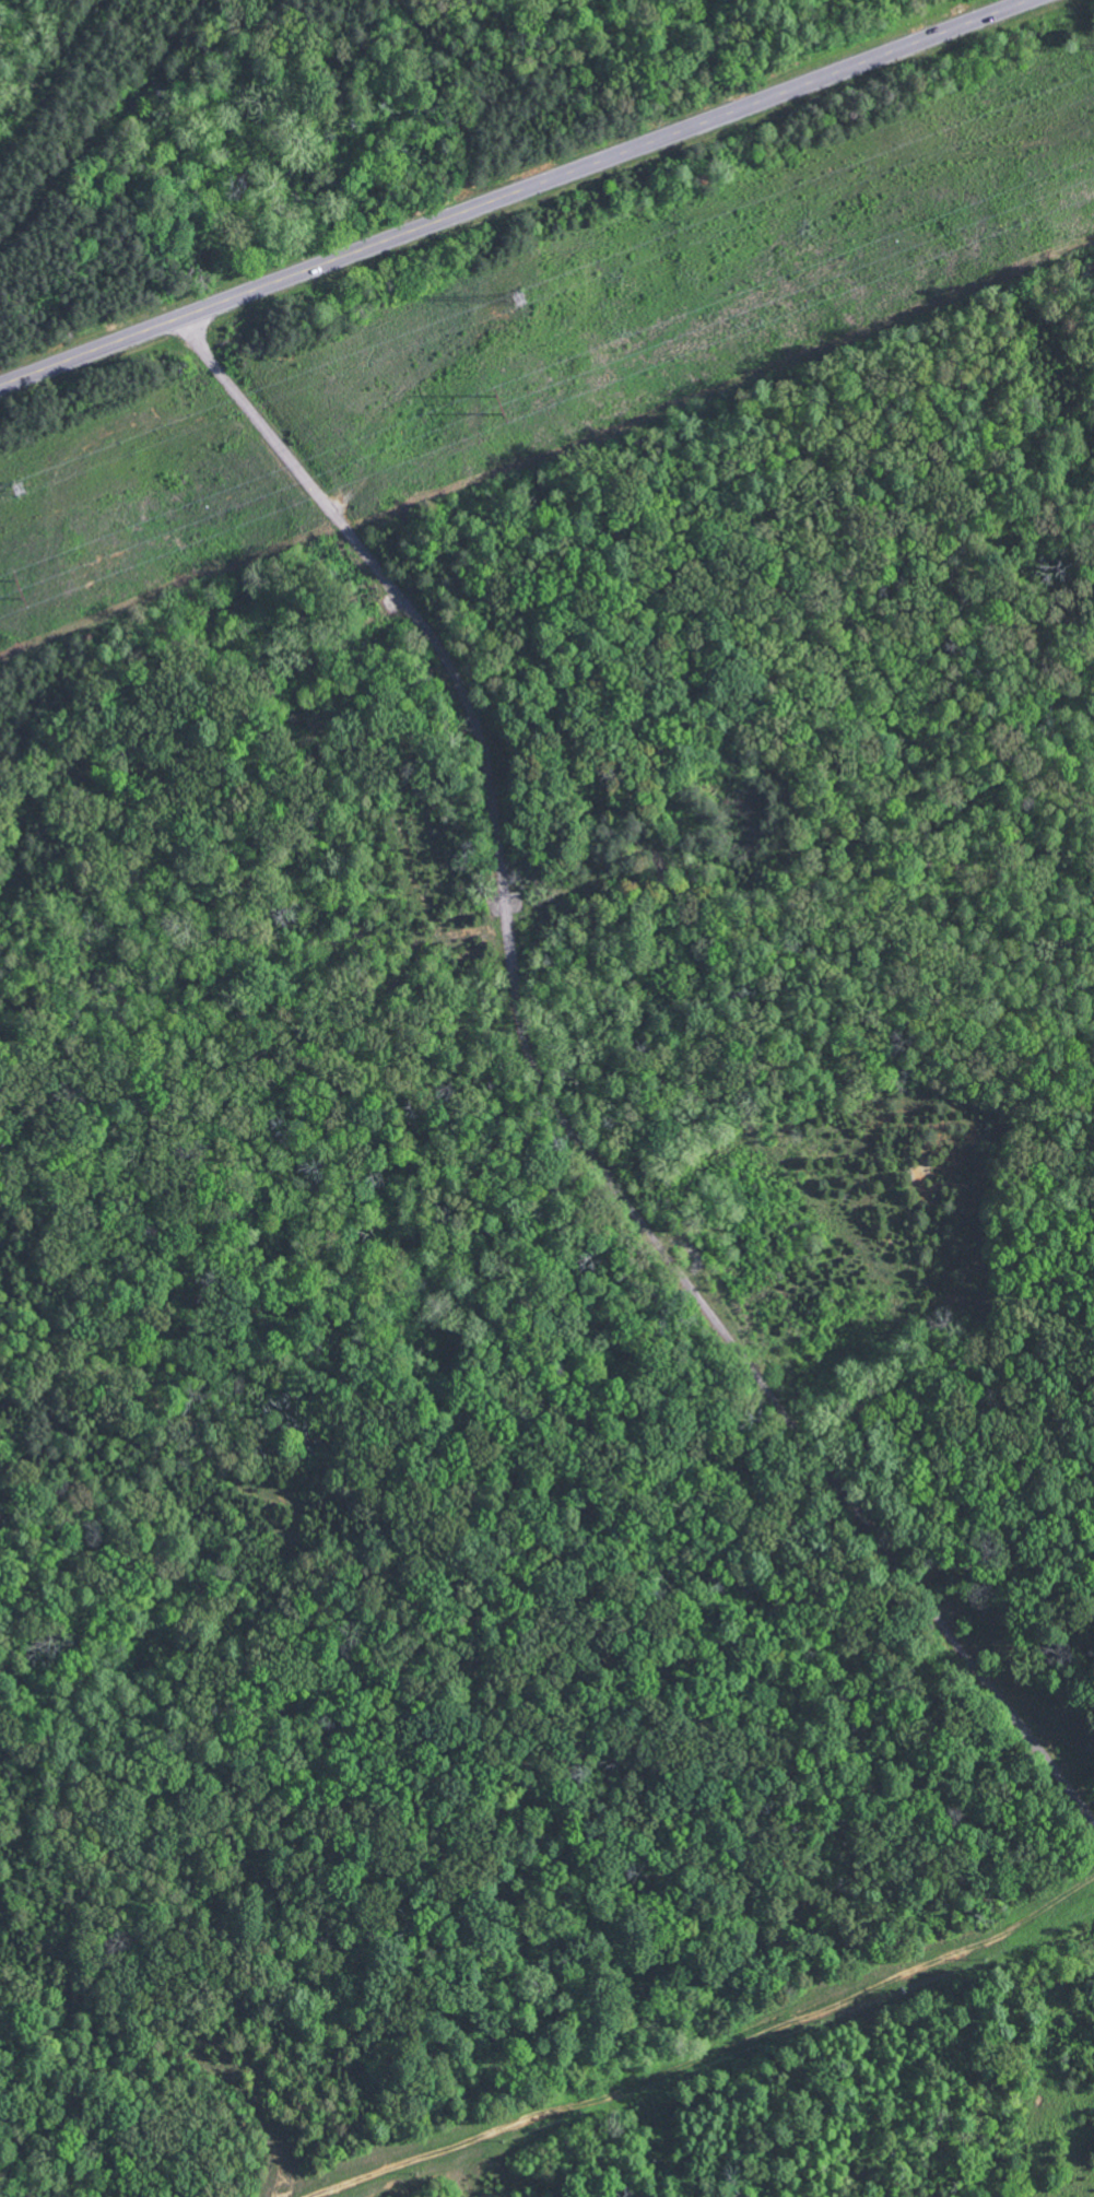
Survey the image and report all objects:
road: (516, 193)
power tower: (522, 296)
power tower: (503, 406)
power tower: (20, 489)
power tower: (21, 587)
road: (555, 1105)

